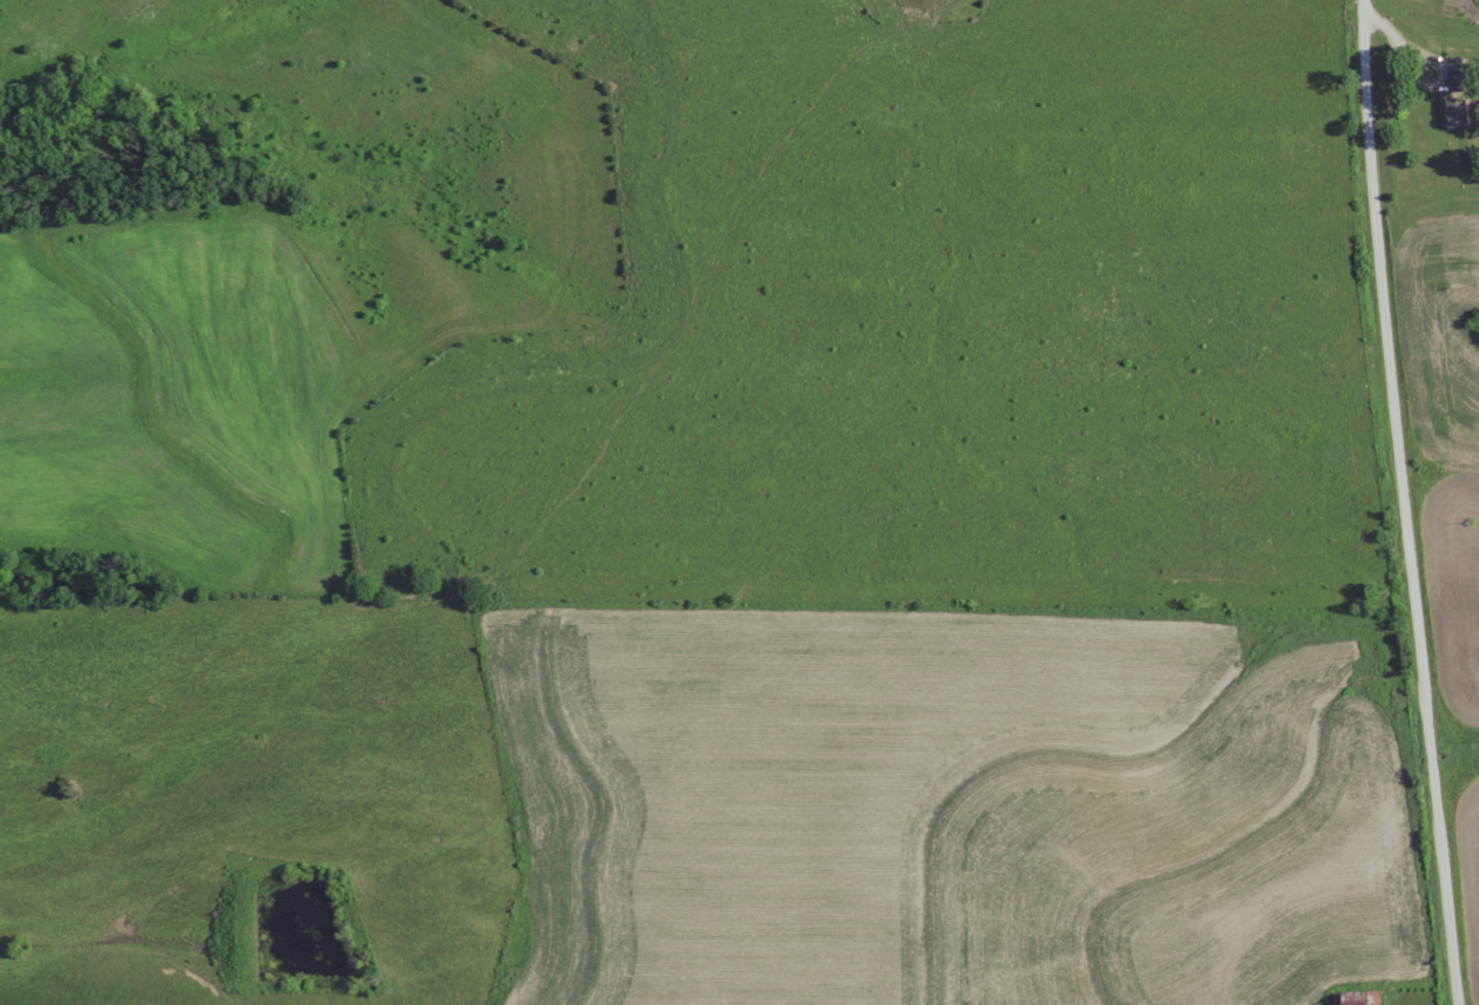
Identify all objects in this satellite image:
building: (1456, 112)
road: (1403, 503)

